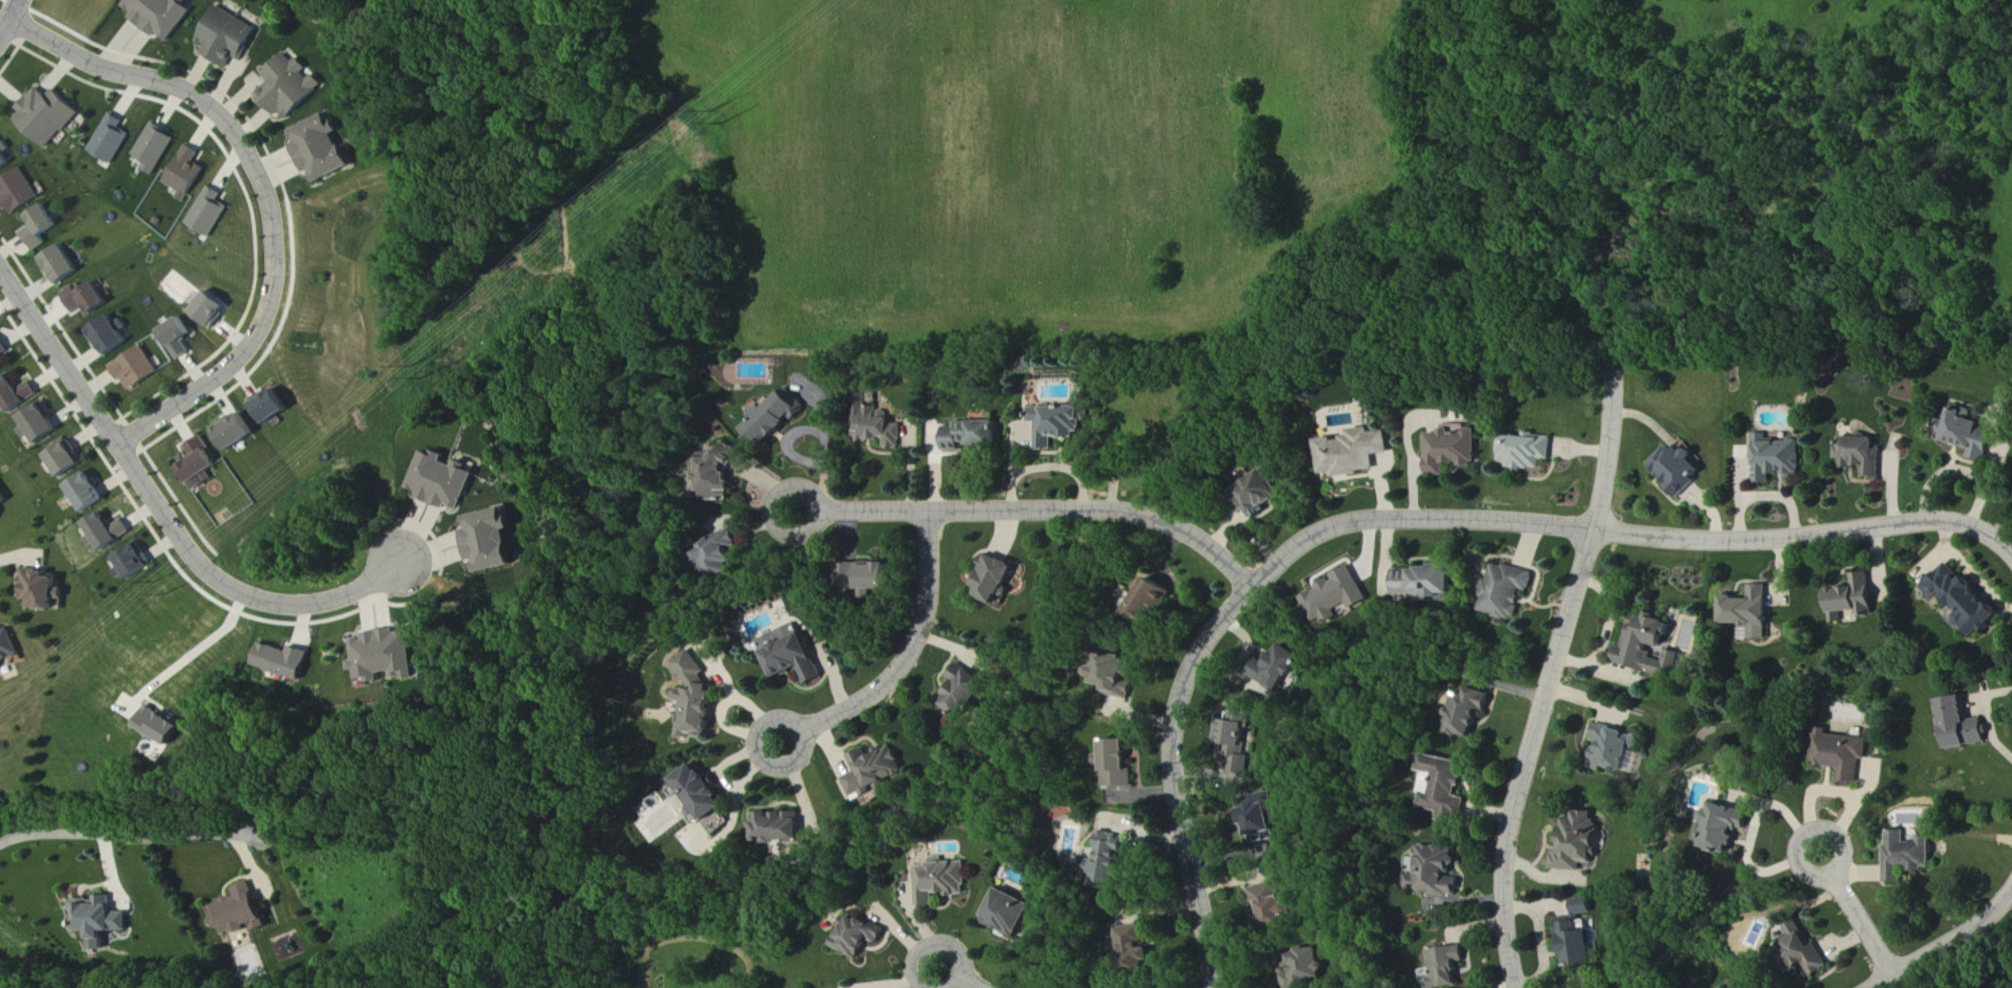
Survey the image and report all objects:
building: (160, 15)
road: (11, 18)
building: (228, 36)
building: (291, 86)
power tower: (714, 111)
building: (46, 115)
power tower: (726, 124)
building: (111, 139)
building: (321, 148)
building: (153, 149)
building: (4, 156)
building: (186, 172)
building: (18, 191)
road: (267, 193)
building: (209, 212)
building: (40, 226)
building: (62, 264)
building: (89, 298)
building: (211, 308)
building: (112, 334)
building: (179, 338)
building: (3, 348)
building: (2, 366)
power tower: (412, 367)
building: (137, 368)
power tower: (427, 377)
building: (17, 392)
building: (272, 406)
building: (775, 418)
building: (1057, 423)
building: (41, 424)
building: (880, 427)
building: (236, 431)
building: (1970, 434)
building: (973, 435)
building: (1452, 448)
building: (1525, 451)
building: (1356, 452)
building: (1863, 455)
building: (1779, 458)
building: (66, 459)
building: (200, 464)
road: (1957, 466)
building: (1681, 469)
building: (443, 481)
building: (87, 492)
building: (1263, 493)
building: (3, 498)
road: (162, 510)
road: (1038, 510)
road: (1414, 518)
building: (108, 531)
building: (492, 540)
building: (721, 552)
road: (2011, 552)
road: (1931, 559)
building: (134, 562)
road: (1969, 568)
building: (878, 576)
building: (1428, 582)
power tower: (156, 583)
building: (43, 589)
building: (1506, 590)
power tower: (167, 595)
building: (1339, 596)
building: (1853, 598)
building: (1965, 599)
building: (1153, 603)
building: (1750, 612)
building: (8, 646)
building: (1648, 647)
building: (794, 654)
road: (194, 656)
building: (388, 656)
road: (908, 658)
building: (286, 661)
building: (1281, 668)
road: (1552, 671)
building: (1118, 674)
road: (1985, 689)
building: (970, 690)
road: (1977, 697)
building: (698, 699)
building: (1470, 711)
road: (1990, 716)
building: (1963, 725)
building: (161, 726)
building: (1235, 736)
building: (1612, 747)
building: (1844, 755)
building: (1119, 764)
building: (878, 772)
building: (1447, 791)
building: (708, 797)
building: (1259, 818)
building: (1726, 826)
building: (782, 828)
road: (129, 834)
building: (1577, 843)
building: (1907, 855)
building: (1112, 862)
building: (1434, 872)
building: (943, 880)
building: (1275, 904)
building: (1583, 906)
building: (241, 911)
building: (1013, 913)
road: (1857, 914)
building: (100, 918)
building: (862, 936)
building: (1577, 944)
road: (1946, 944)
building: (1142, 948)
building: (1803, 949)
building: (1445, 966)
building: (1309, 968)
road: (961, 978)

